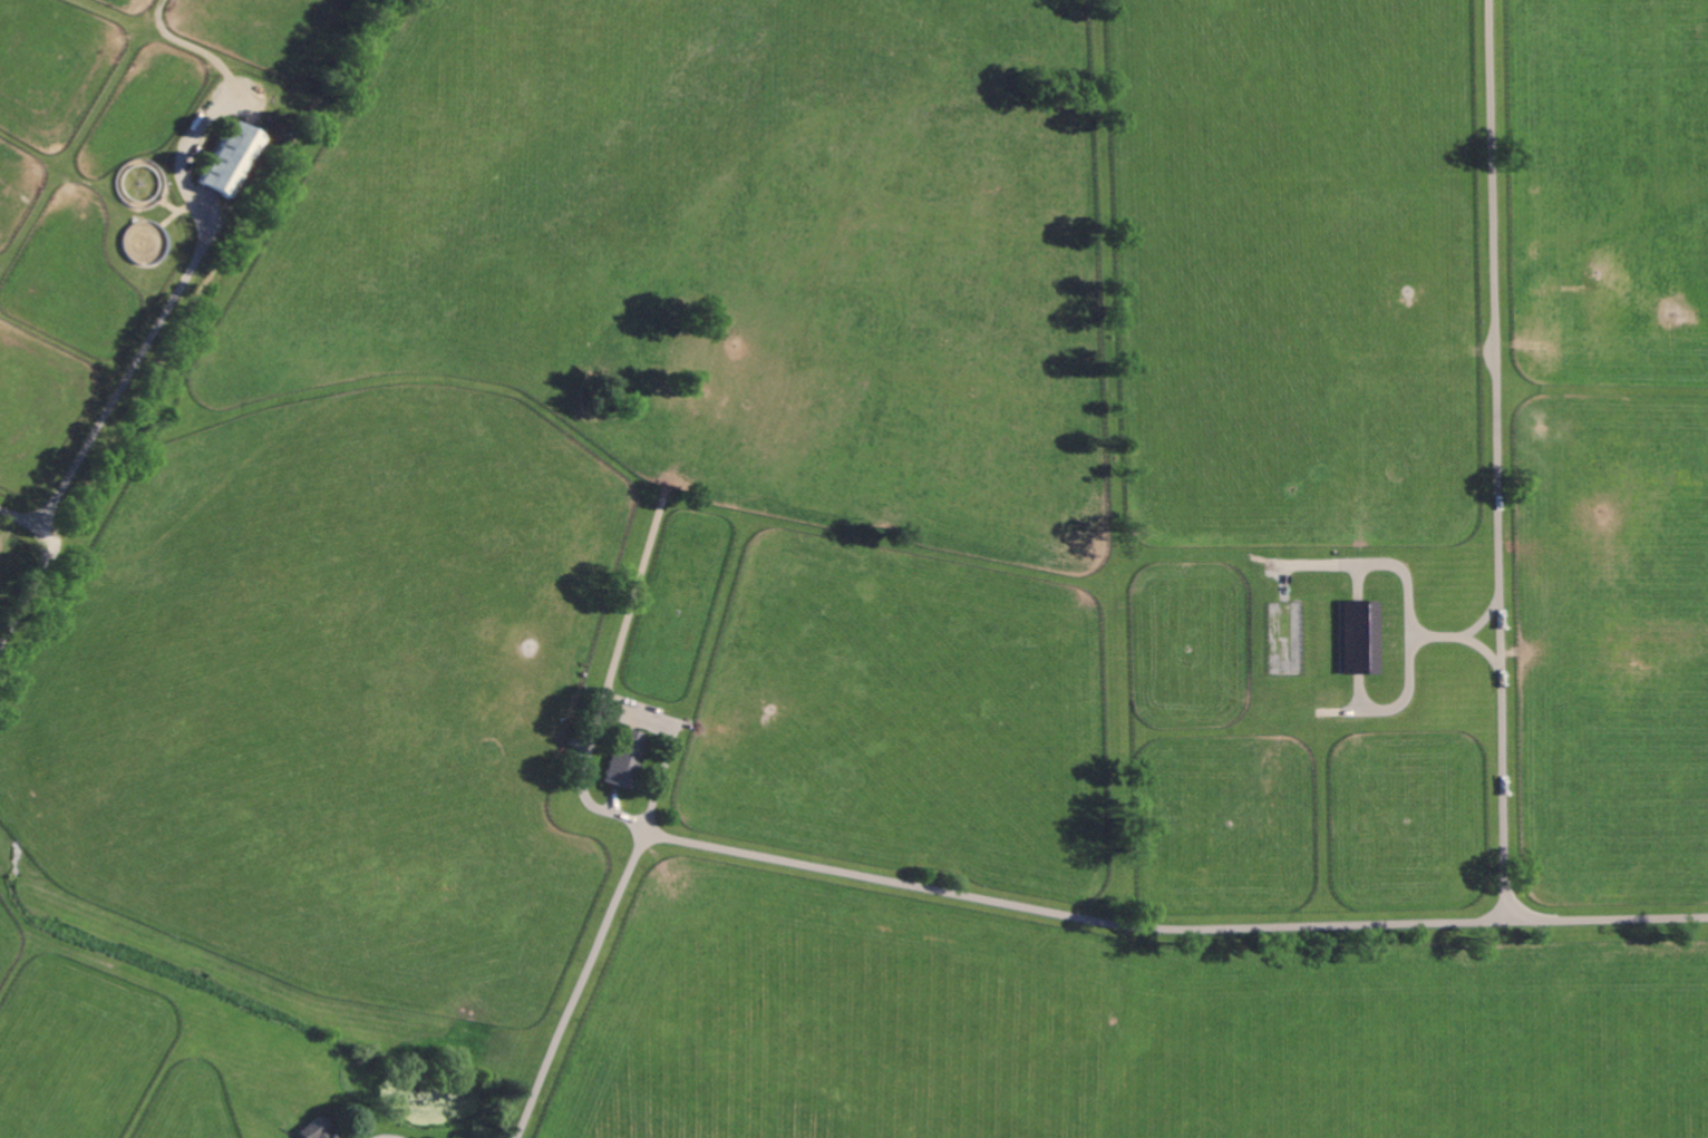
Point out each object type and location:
building: (234, 161)
road: (126, 377)
road: (1498, 459)
road: (36, 581)
road: (617, 709)
building: (627, 758)
road: (1012, 906)
building: (320, 1130)
road: (388, 1137)

